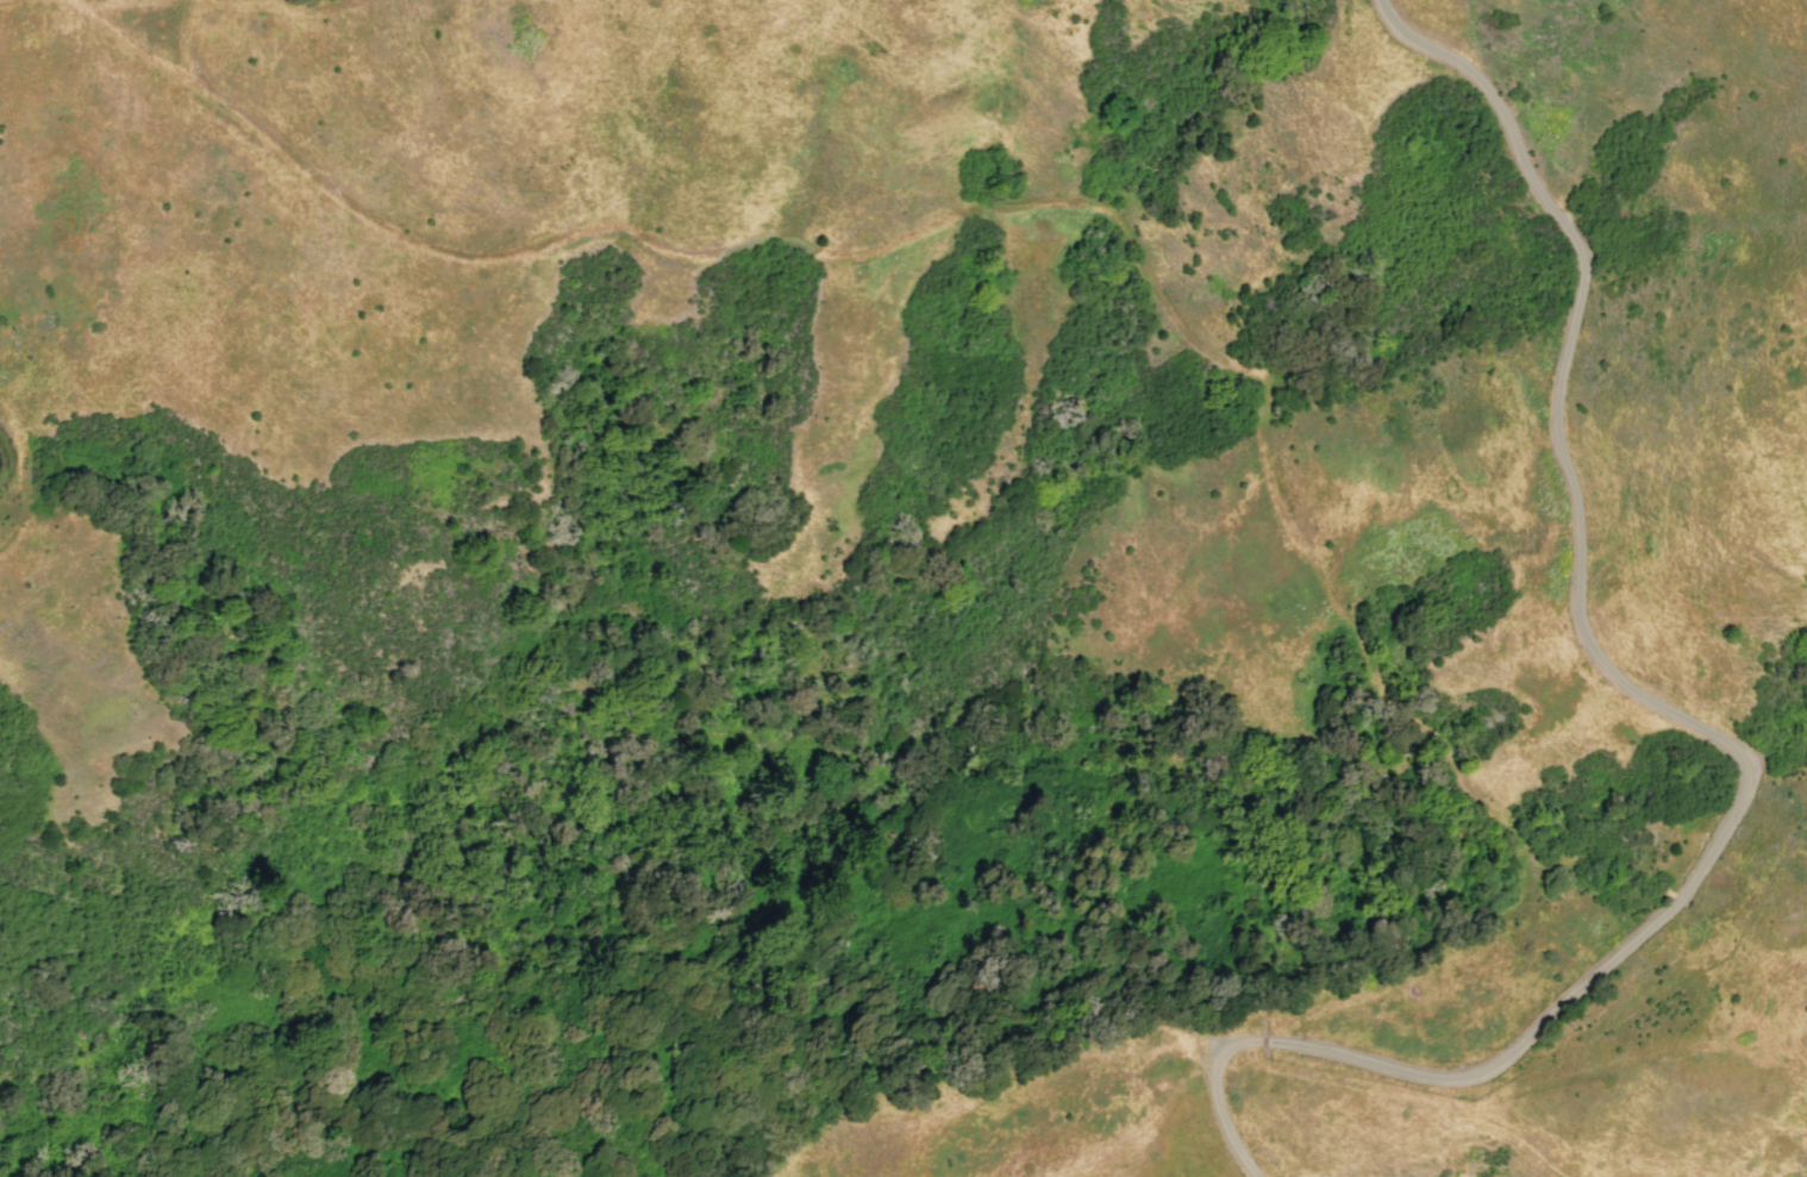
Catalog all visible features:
road: (0, 0)
road: (239, 4)
road: (1120, 231)
road: (20, 476)
road: (1700, 728)

